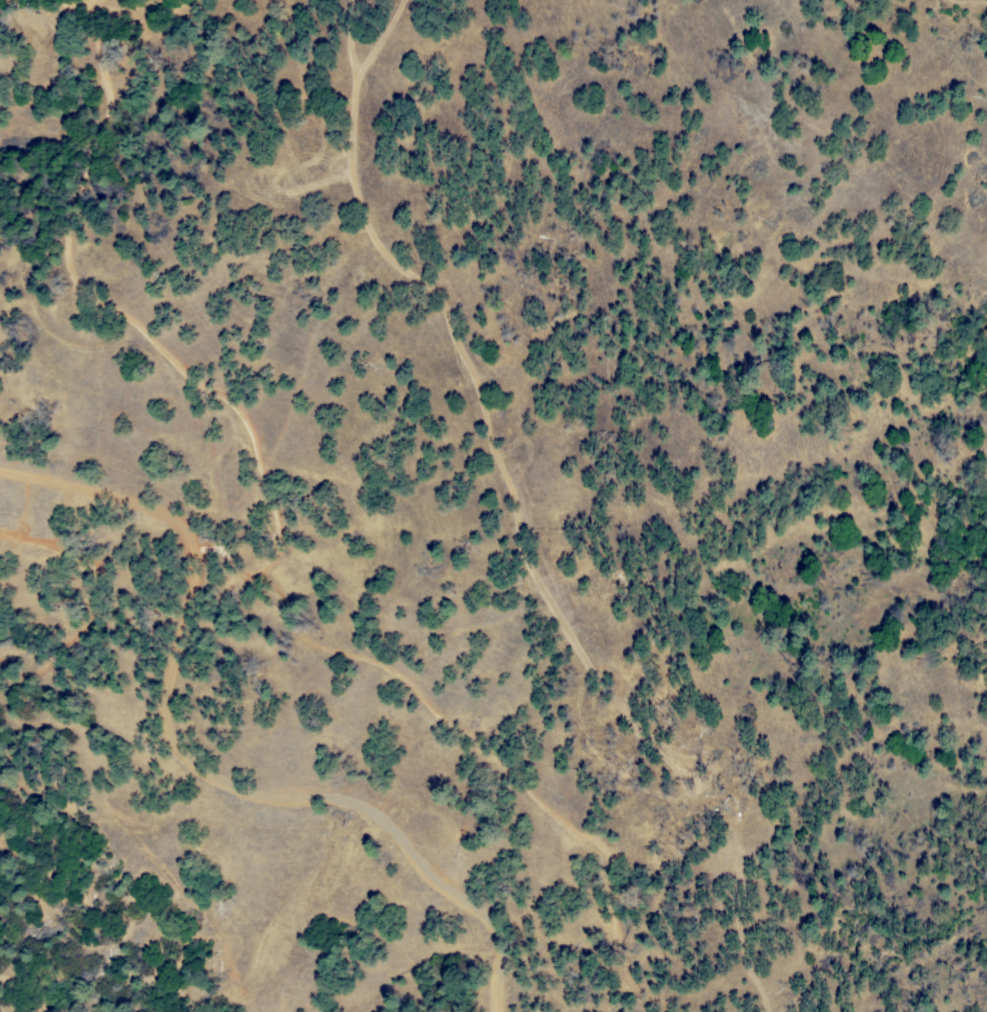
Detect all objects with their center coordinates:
road: (195, 761)

